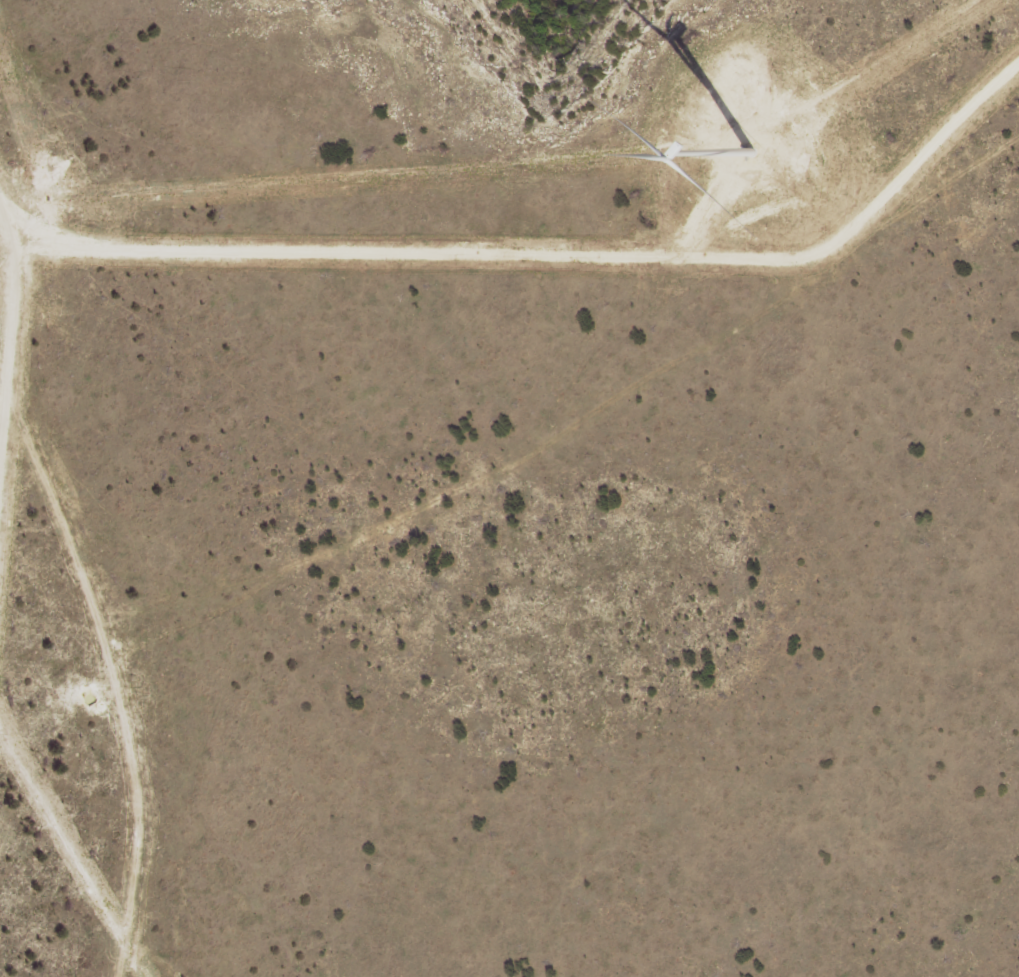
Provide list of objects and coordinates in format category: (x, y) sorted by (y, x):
wind turbine: (738, 144)
road: (96, 589)

